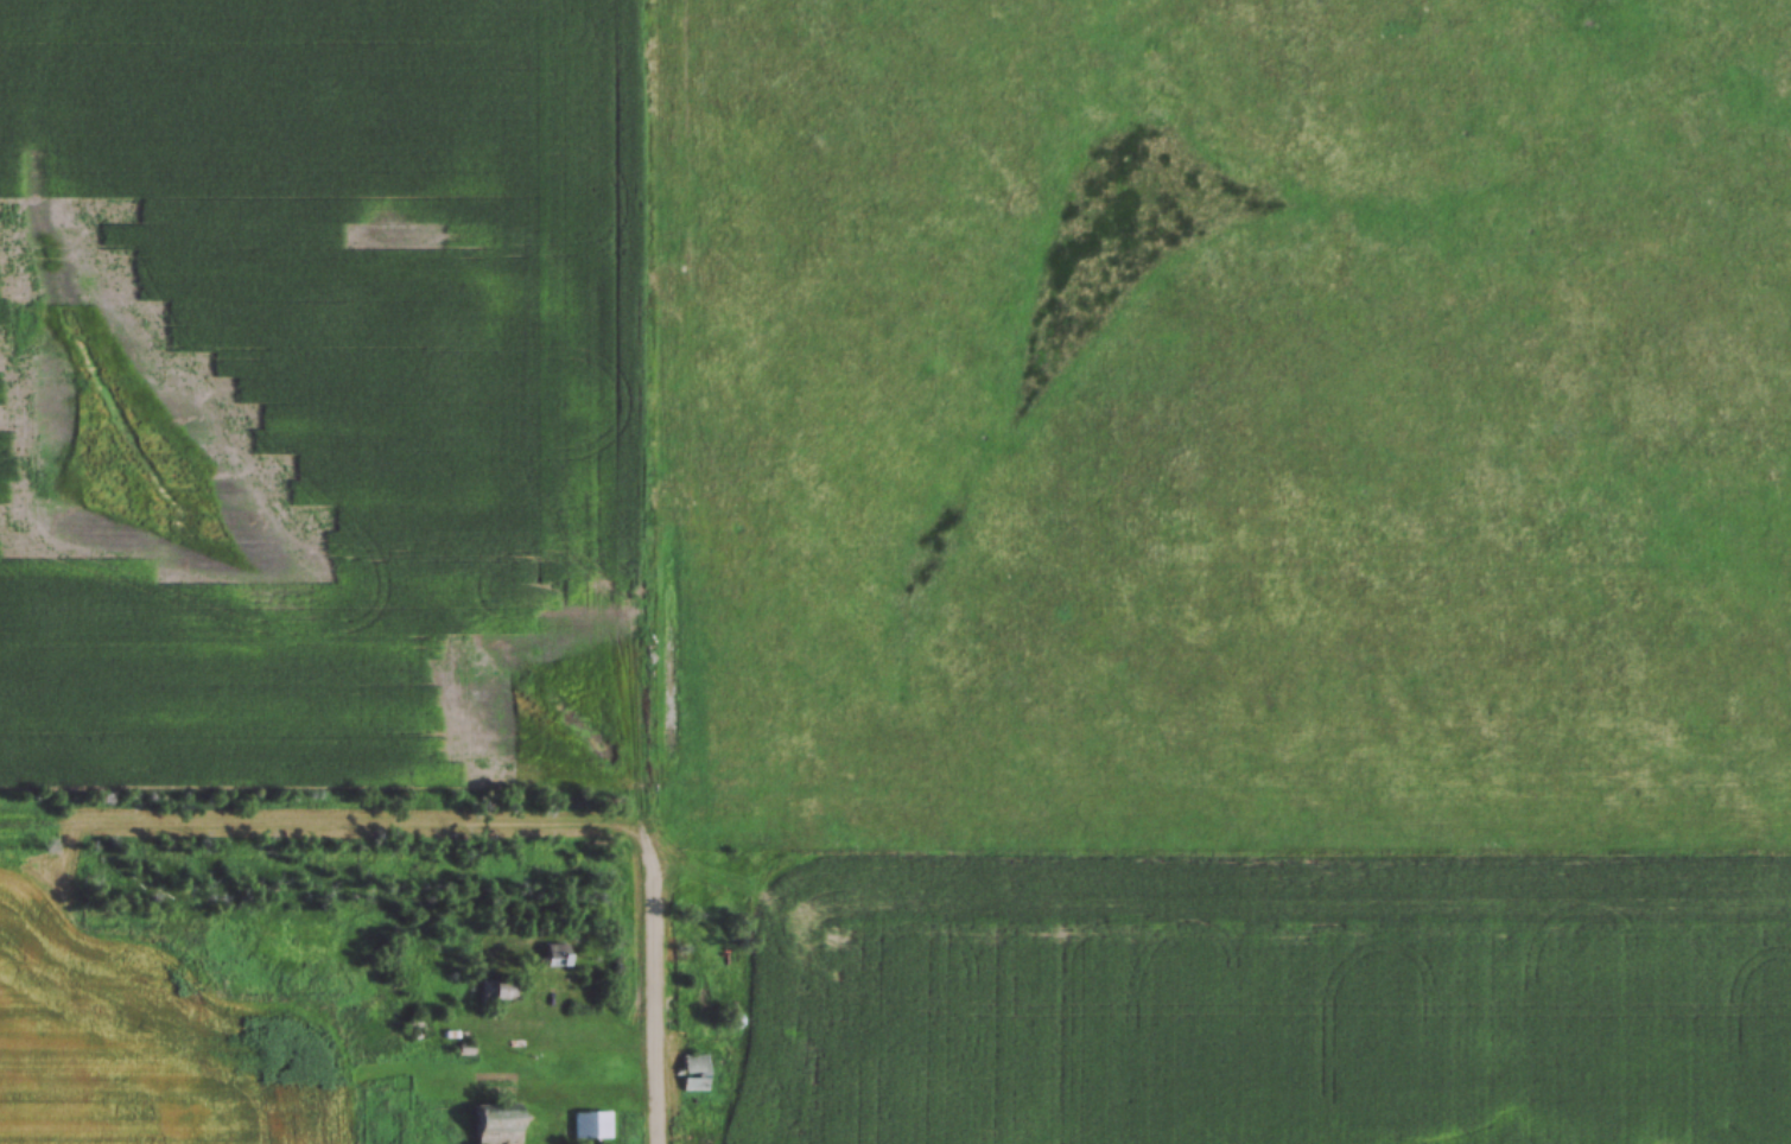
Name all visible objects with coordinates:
road: (318, 852)
road: (652, 992)

